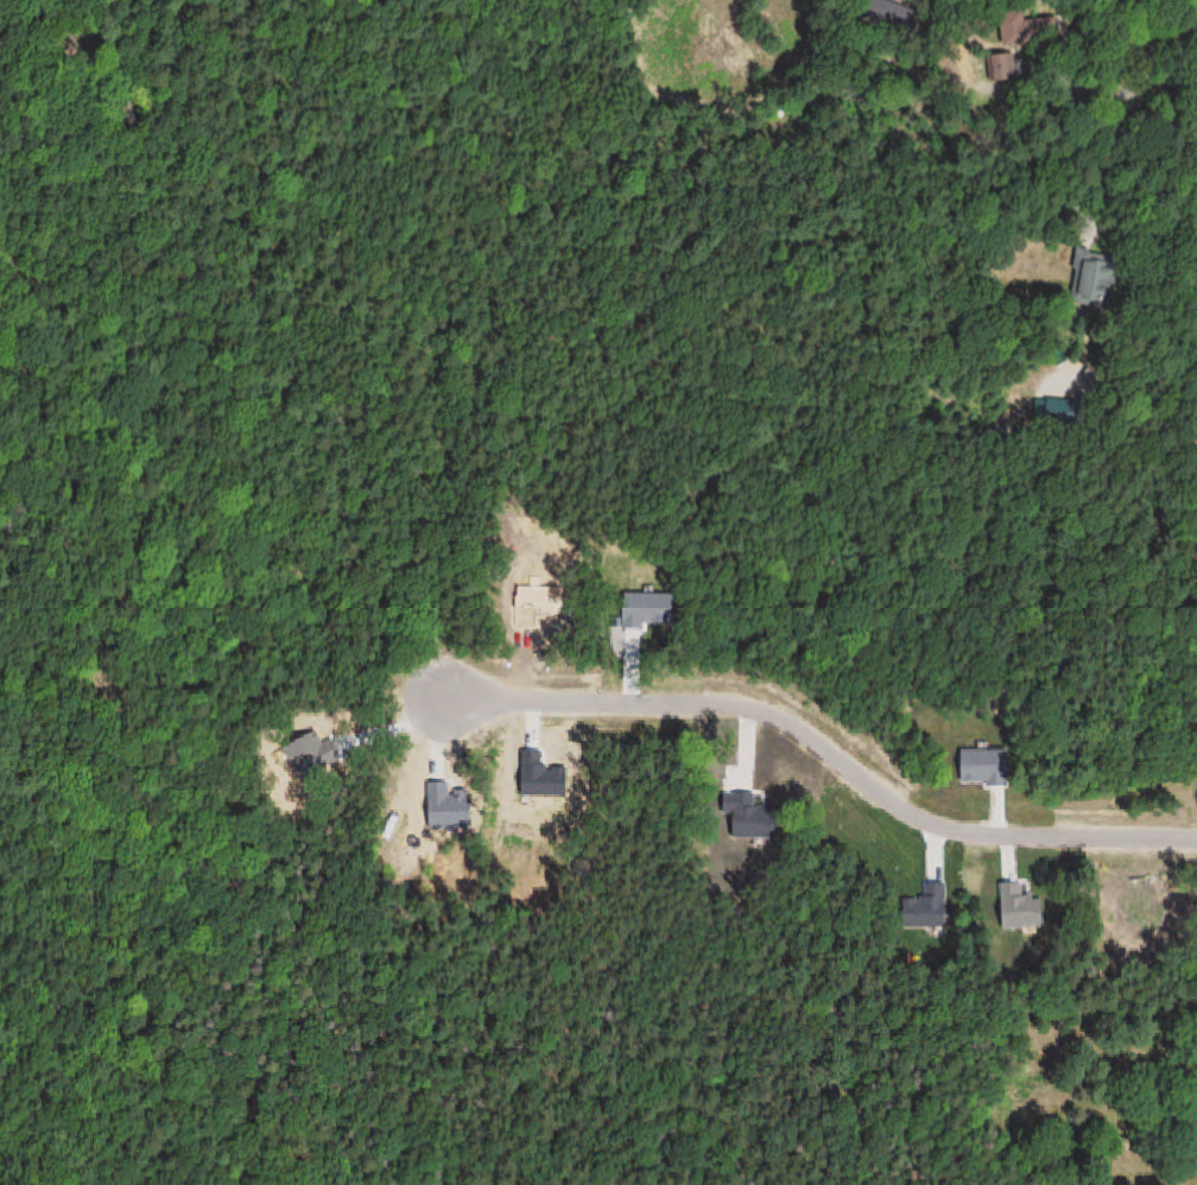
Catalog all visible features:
building: (1016, 27)
building: (1000, 65)
building: (1095, 277)
road: (1047, 832)

